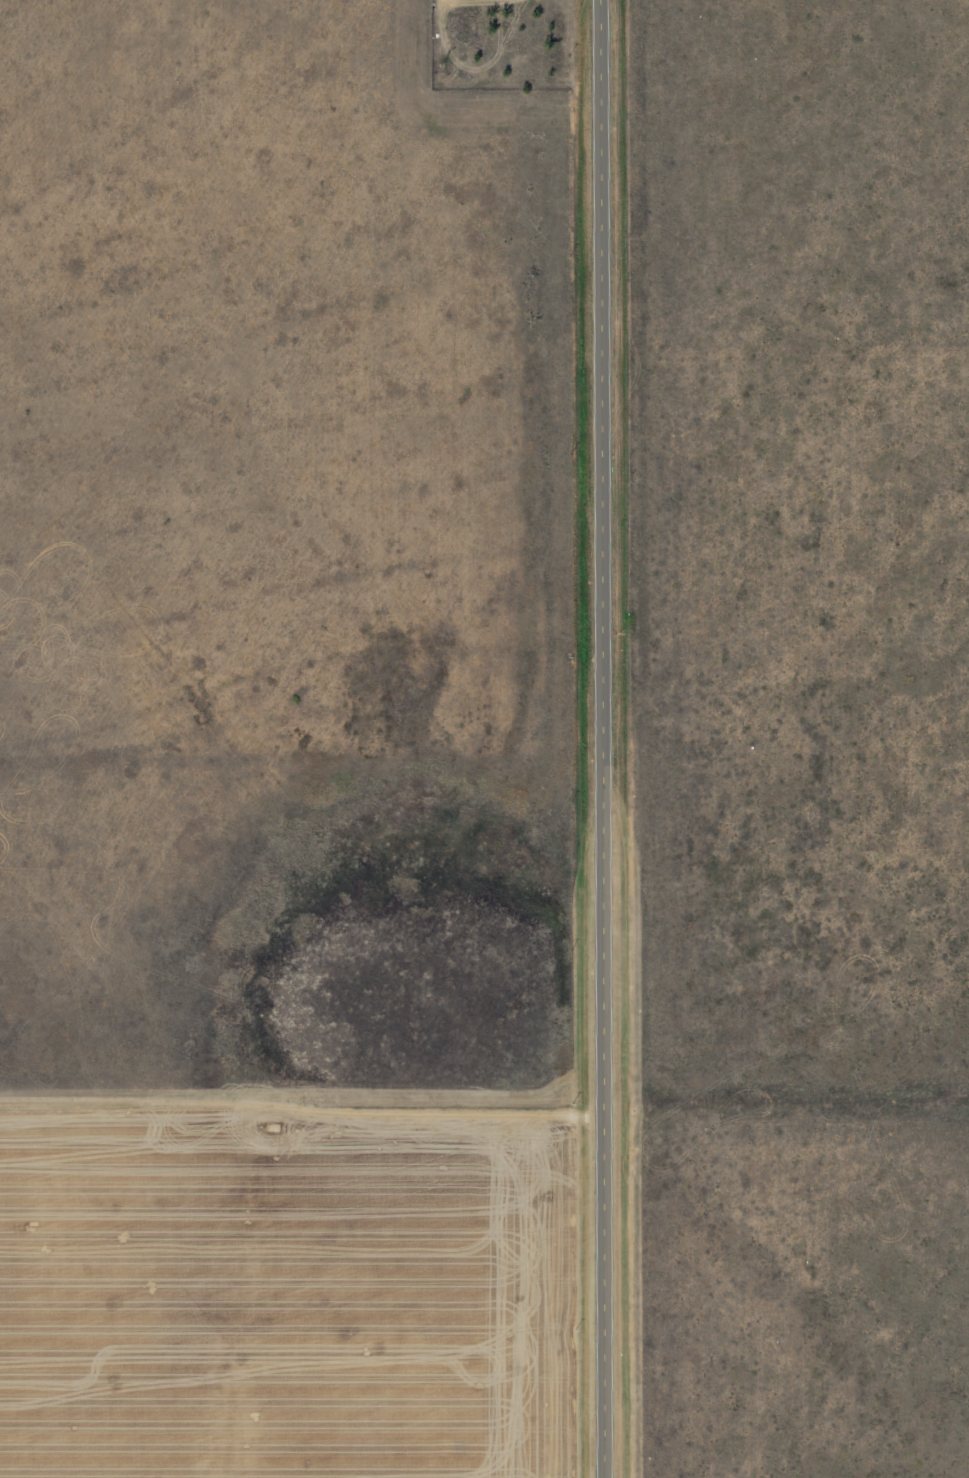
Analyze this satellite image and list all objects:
road: (603, 739)
road: (786, 1085)

